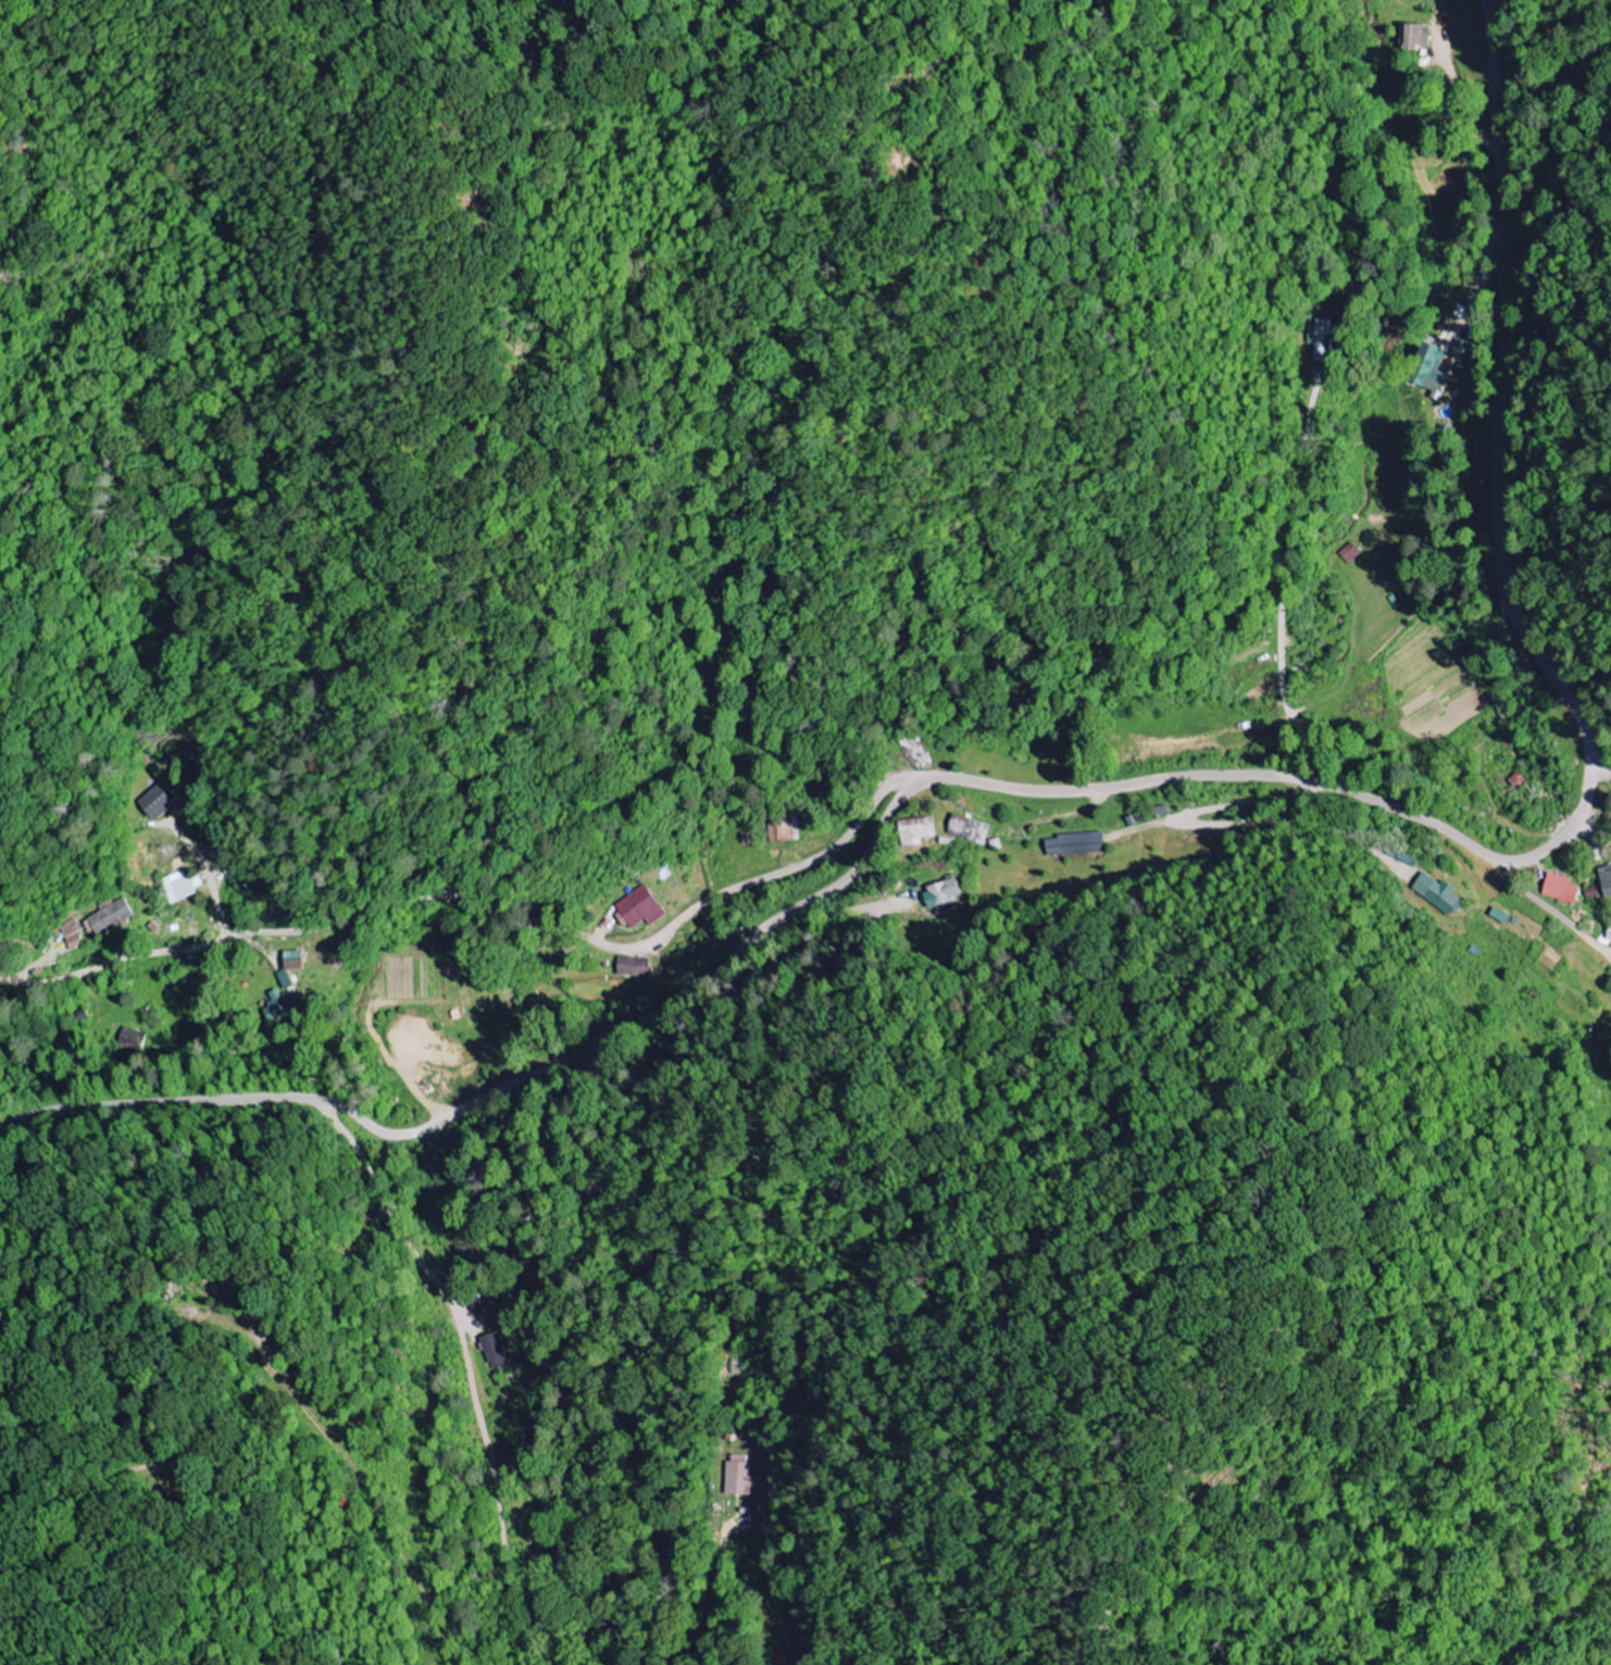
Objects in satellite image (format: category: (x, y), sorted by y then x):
building: (1415, 36)
building: (1320, 339)
building: (1461, 349)
building: (1431, 370)
road: (1296, 528)
building: (1350, 553)
road: (1598, 750)
road: (1343, 754)
road: (1161, 786)
building: (159, 802)
building: (970, 830)
building: (917, 831)
building: (1076, 843)
road: (202, 880)
building: (1606, 880)
building: (183, 887)
building: (1561, 888)
building: (1438, 893)
building: (1593, 893)
road: (485, 903)
building: (639, 909)
building: (108, 918)
building: (72, 935)
building: (1609, 935)
building: (629, 967)
building: (285, 980)
building: (282, 1007)
road: (612, 1154)
building: (495, 1351)
road: (471, 1375)
building: (738, 1475)
road: (379, 1508)

